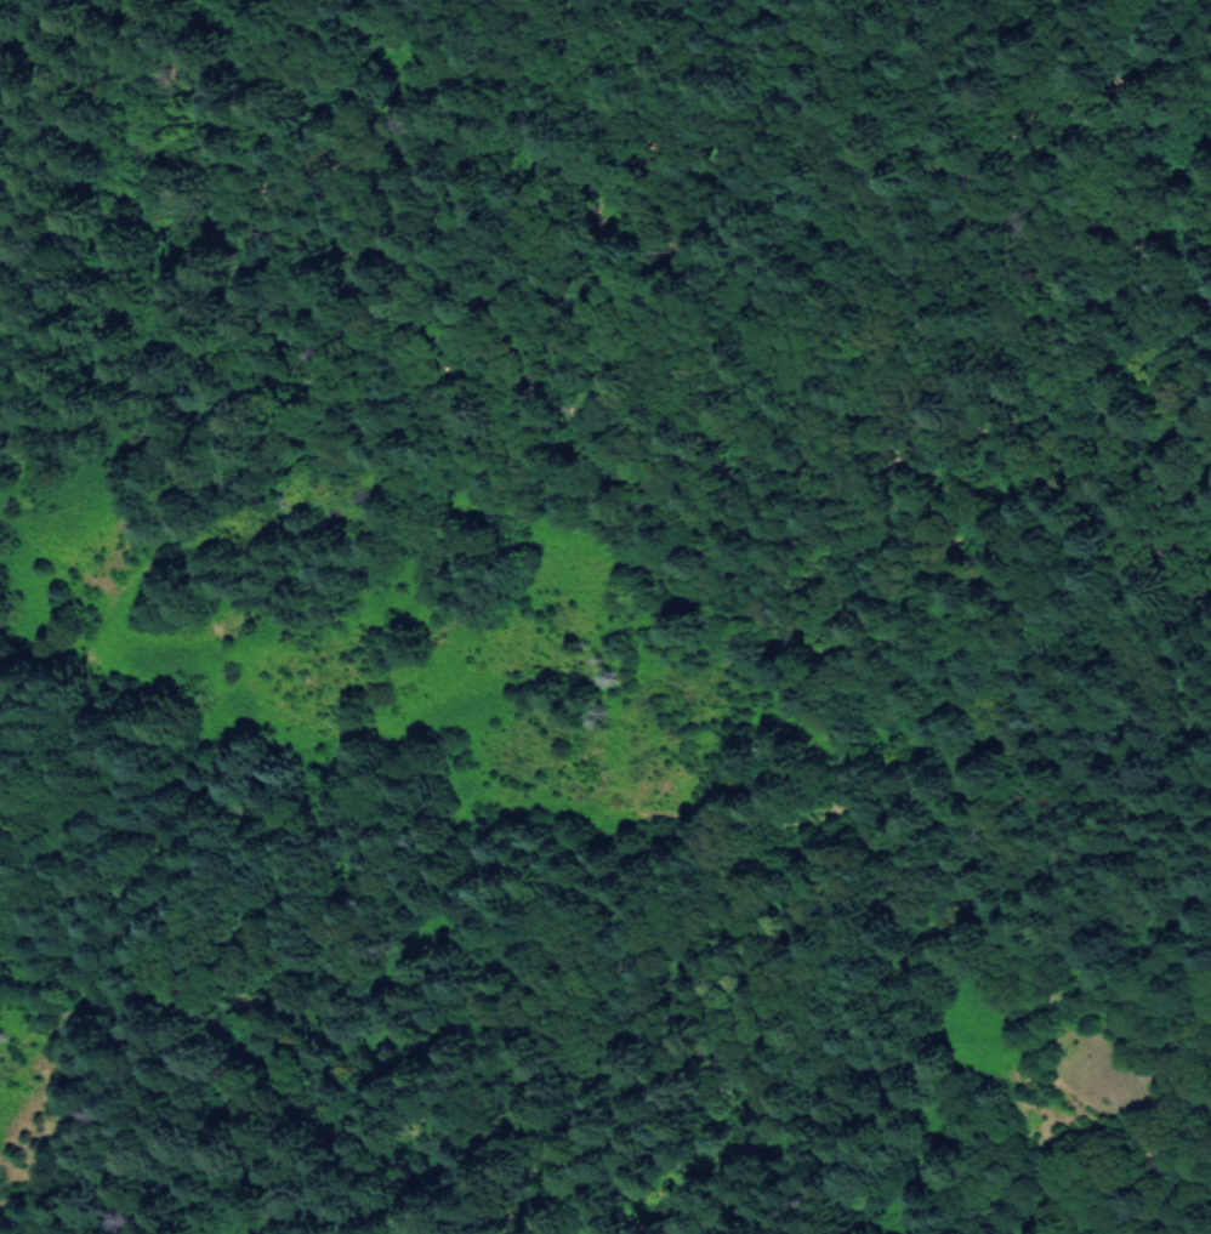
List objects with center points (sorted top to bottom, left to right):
road: (695, 613)

